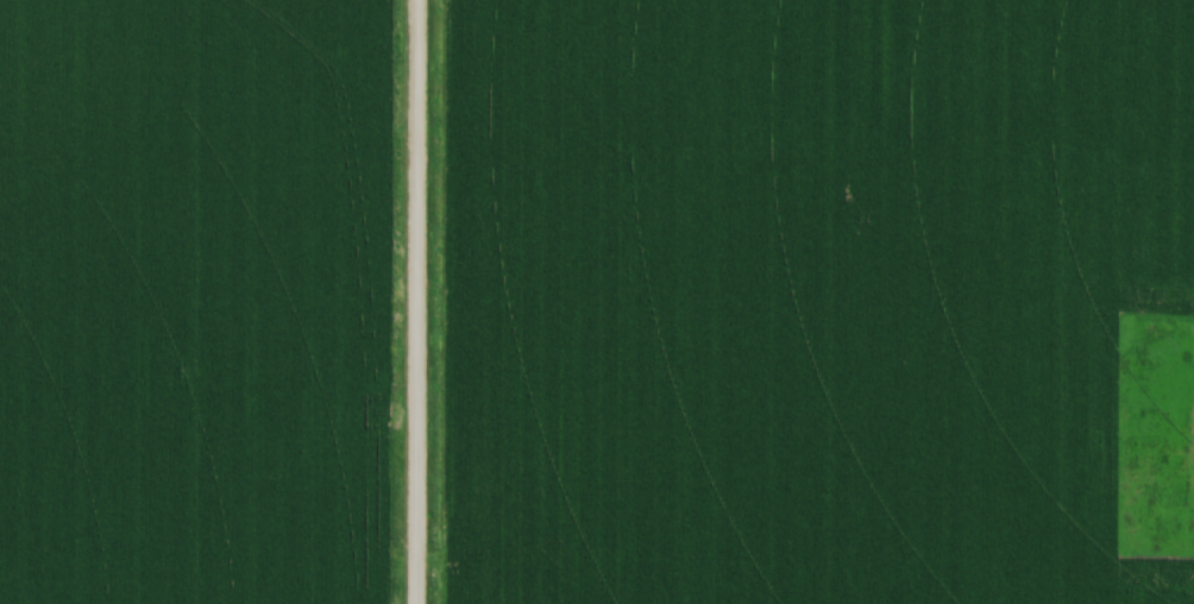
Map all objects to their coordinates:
road: (411, 301)

